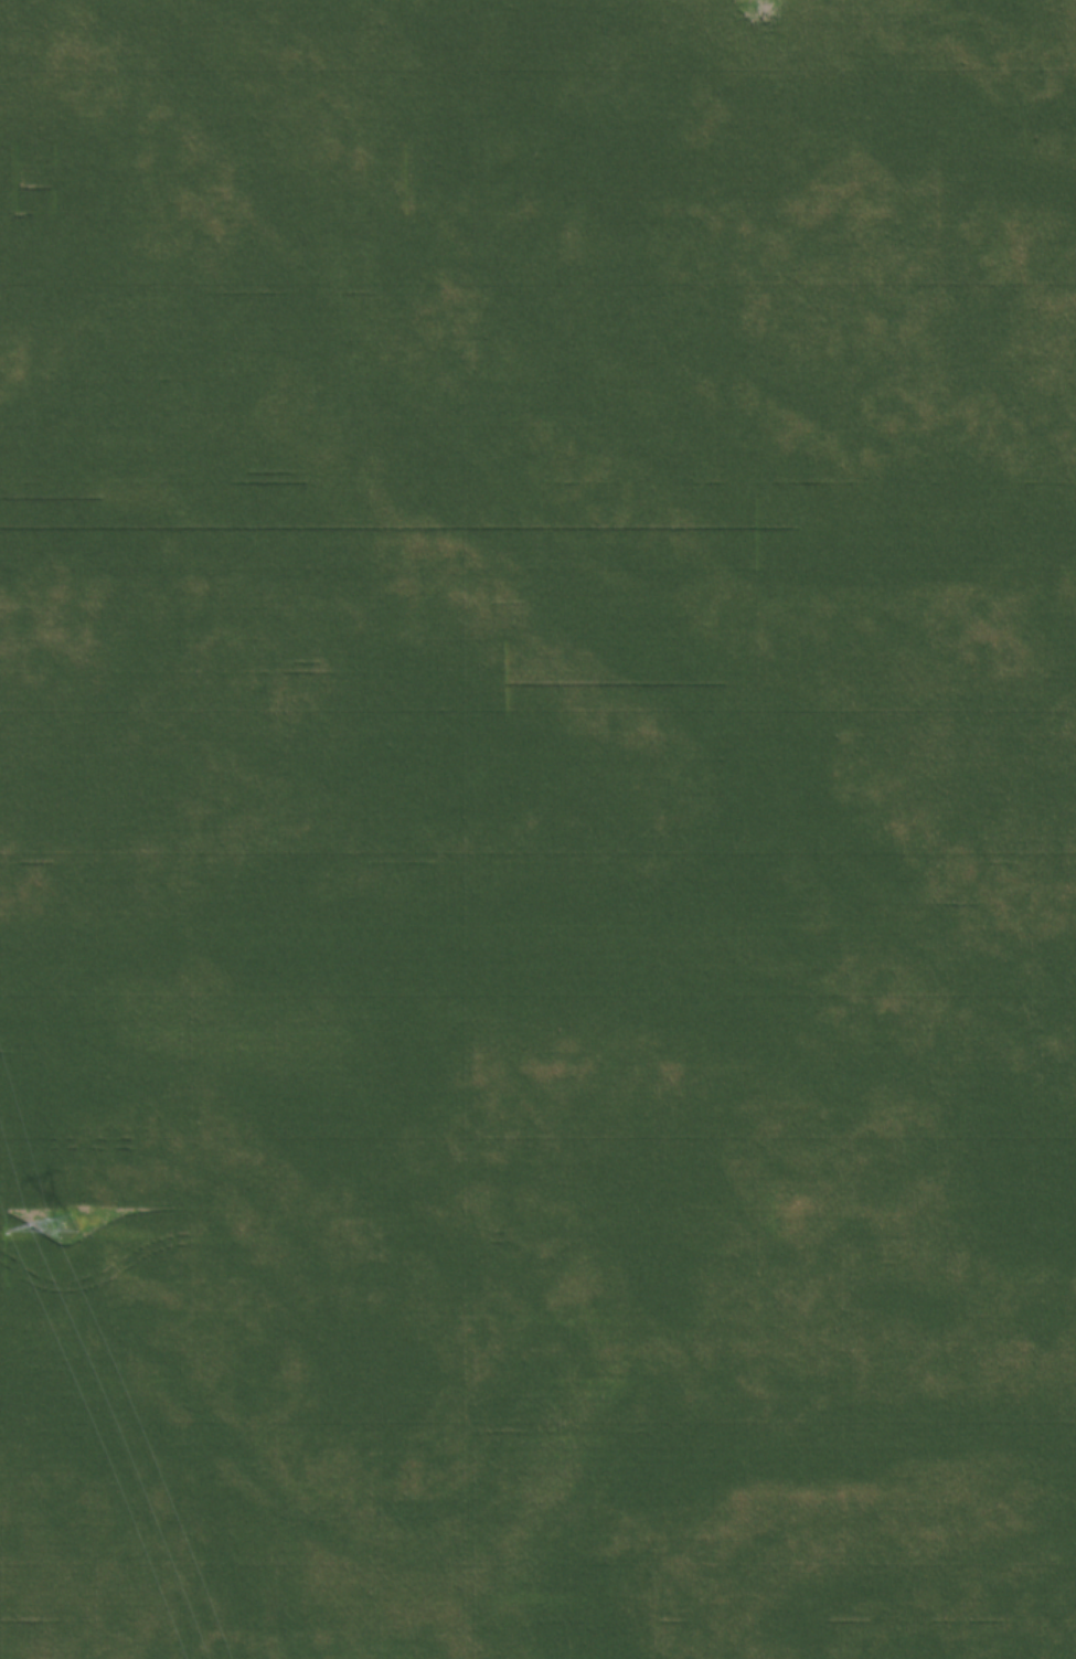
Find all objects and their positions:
power tower: (63, 1227)

